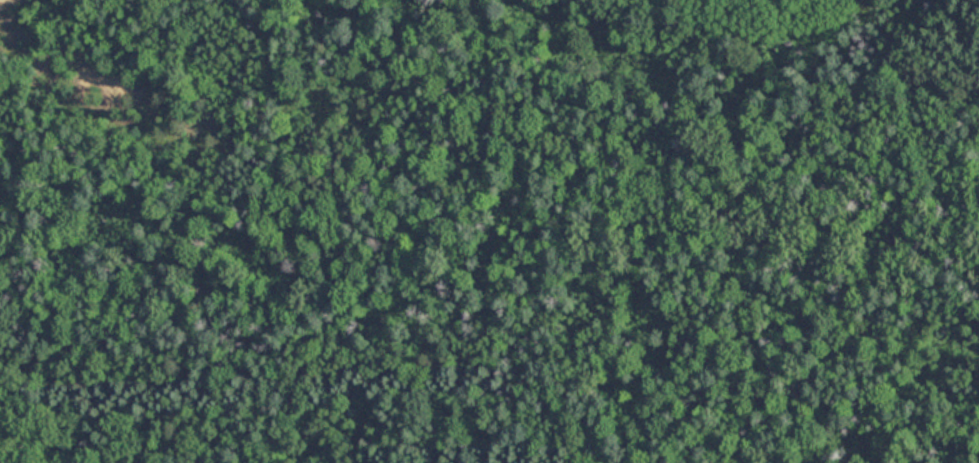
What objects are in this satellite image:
park: (489, 231)

